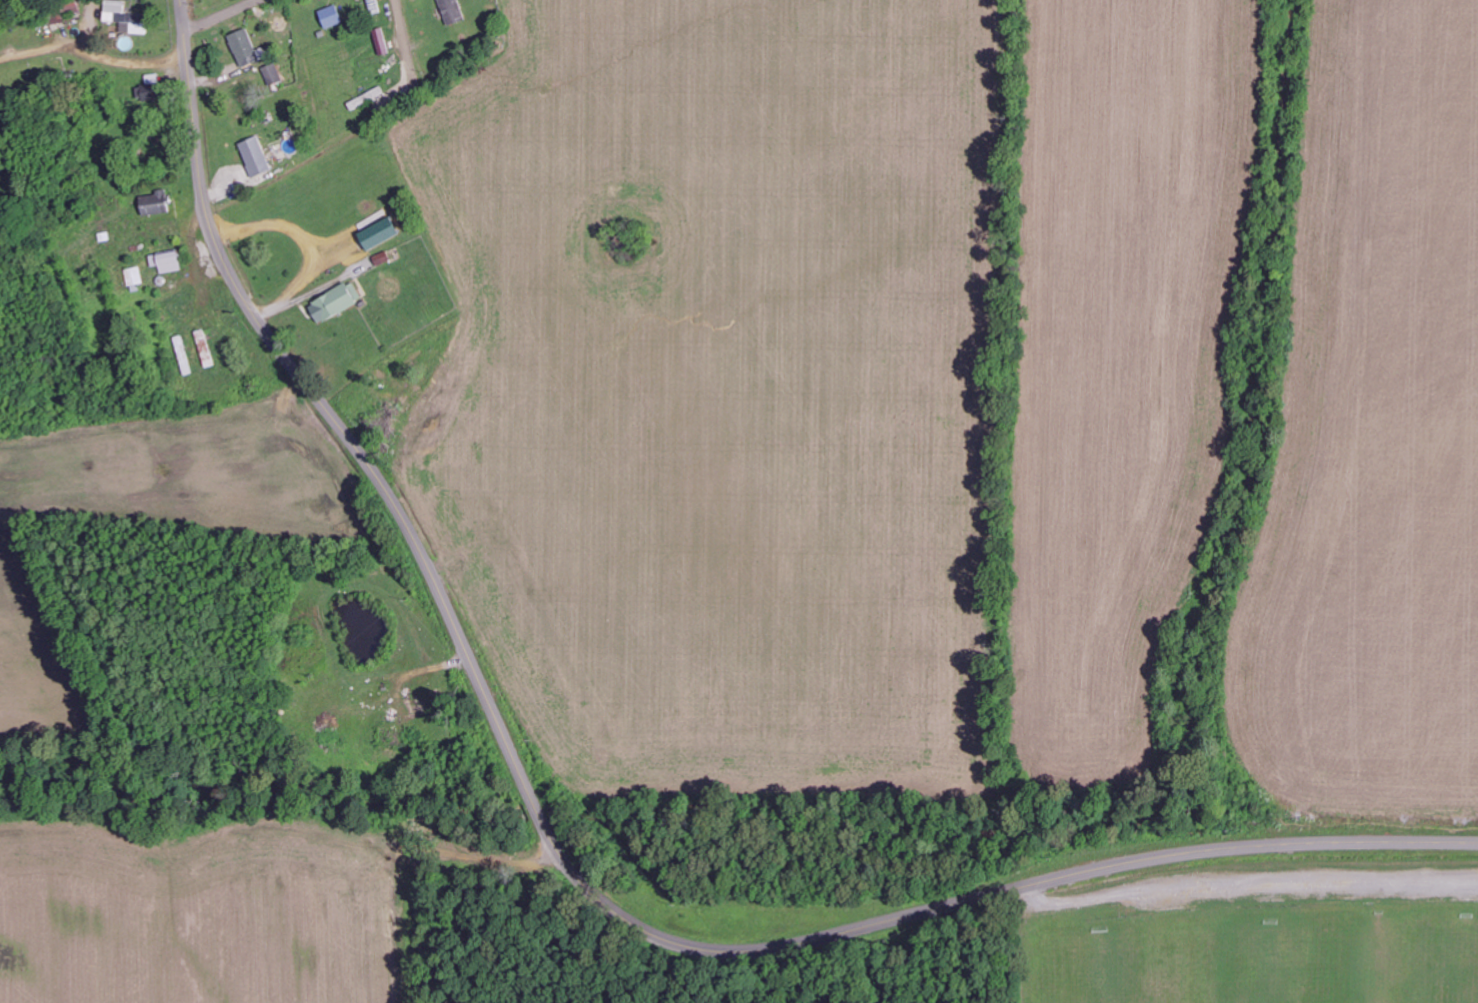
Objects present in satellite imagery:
building: (113, 9)
building: (452, 10)
road: (220, 15)
building: (330, 16)
road: (403, 44)
building: (245, 48)
building: (272, 73)
road: (92, 79)
building: (255, 156)
building: (154, 203)
building: (379, 234)
building: (167, 262)
building: (134, 276)
building: (336, 302)
road: (324, 506)
road: (566, 857)
park: (1278, 944)
road: (1476, 965)

